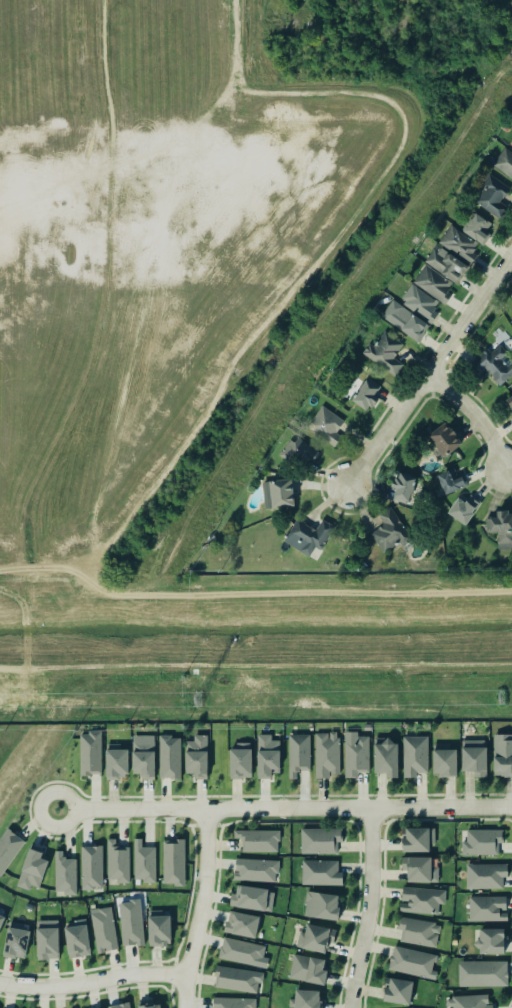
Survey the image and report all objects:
road: (271, 5)
road: (236, 39)
road: (312, 93)
building: (503, 163)
building: (493, 197)
building: (474, 228)
building: (457, 244)
building: (445, 266)
building: (431, 284)
building: (511, 295)
building: (418, 302)
building: (403, 321)
building: (385, 352)
road: (307, 355)
building: (492, 363)
road: (430, 370)
building: (364, 395)
building: (509, 401)
road: (474, 417)
building: (511, 417)
building: (325, 424)
building: (444, 439)
building: (299, 451)
building: (451, 481)
building: (401, 488)
building: (280, 492)
building: (463, 508)
building: (501, 528)
building: (390, 530)
building: (308, 536)
road: (85, 574)
road: (93, 580)
road: (90, 584)
road: (39, 585)
road: (315, 592)
road: (110, 593)
road: (41, 663)
road: (364, 663)
road: (167, 664)
power tower: (499, 701)
power tower: (197, 702)
building: (89, 751)
building: (354, 752)
building: (298, 754)
building: (326, 754)
building: (168, 755)
building: (143, 756)
building: (196, 756)
building: (267, 756)
building: (414, 756)
building: (502, 756)
building: (474, 757)
building: (386, 758)
building: (443, 760)
building: (116, 761)
building: (239, 761)
road: (284, 808)
building: (257, 838)
building: (319, 839)
building: (418, 839)
building: (482, 842)
building: (8, 846)
building: (117, 862)
building: (144, 862)
building: (173, 862)
building: (90, 866)
building: (418, 867)
building: (31, 868)
building: (256, 870)
building: (320, 872)
building: (64, 873)
building: (484, 874)
road: (374, 892)
building: (250, 899)
building: (421, 900)
building: (320, 903)
building: (486, 908)
road: (200, 909)
building: (1, 919)
building: (131, 922)
building: (240, 922)
building: (103, 928)
building: (159, 929)
building: (418, 932)
building: (314, 936)
building: (46, 938)
building: (77, 939)
building: (489, 939)
building: (18, 944)
building: (239, 950)
building: (413, 962)
building: (306, 967)
building: (483, 974)
building: (238, 979)
road: (93, 981)
road: (354, 991)
building: (398, 991)
building: (307, 999)
building: (468, 1001)
building: (232, 1002)
building: (120, 1005)
building: (150, 1005)

